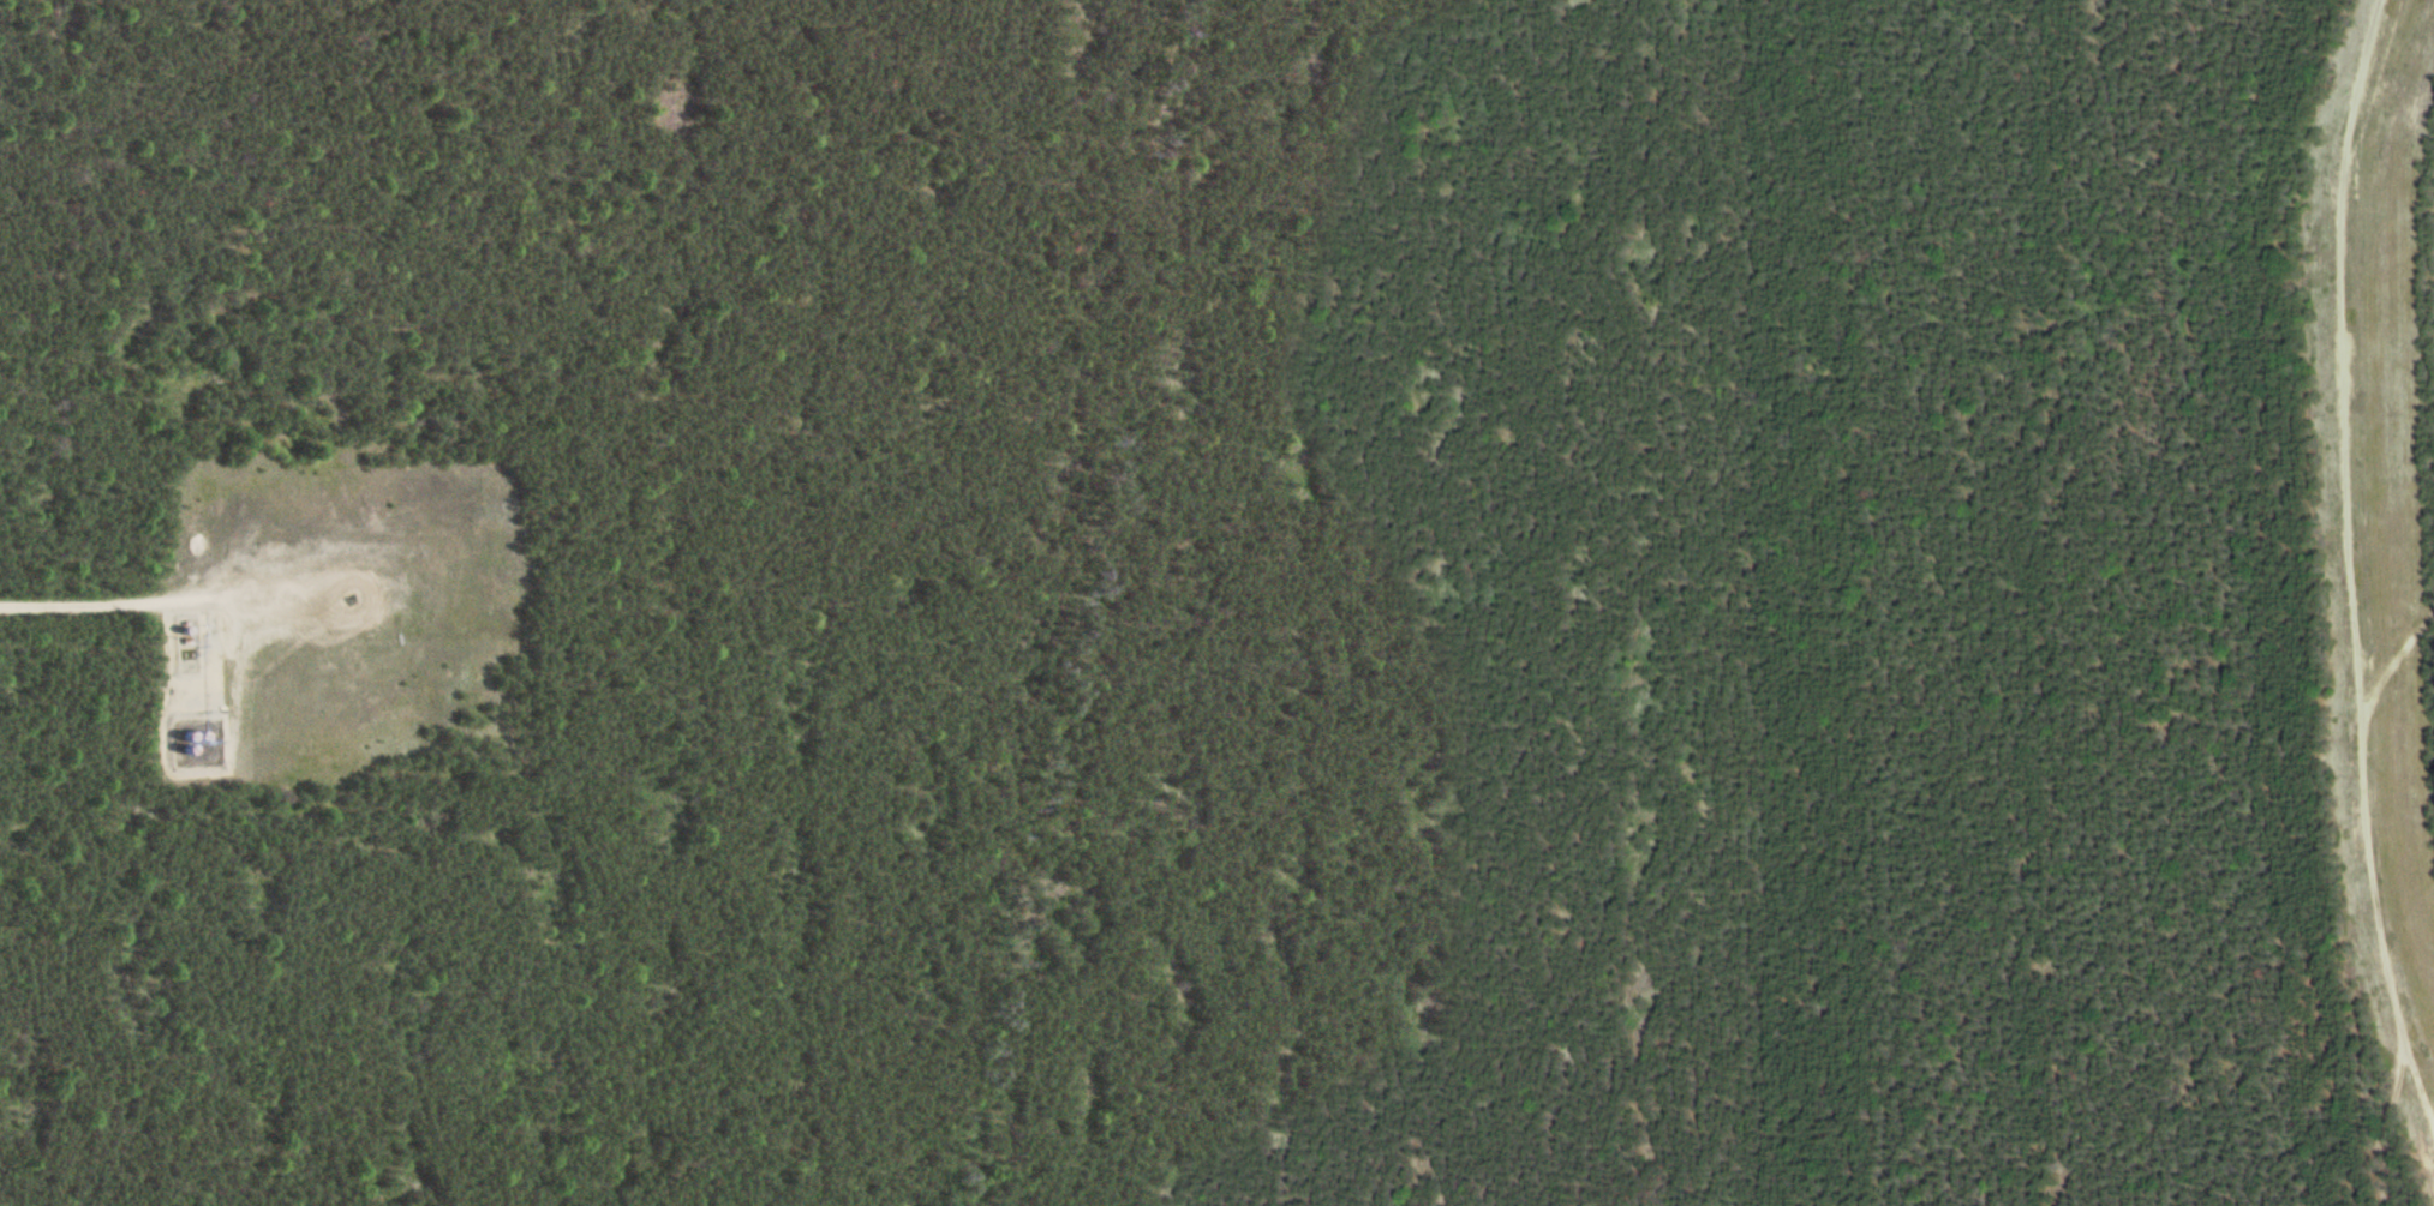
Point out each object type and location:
road: (2345, 349)
petroleum well: (352, 596)
road: (134, 601)
building: (221, 631)
road: (2400, 661)
road: (2386, 958)
road: (2421, 1100)

